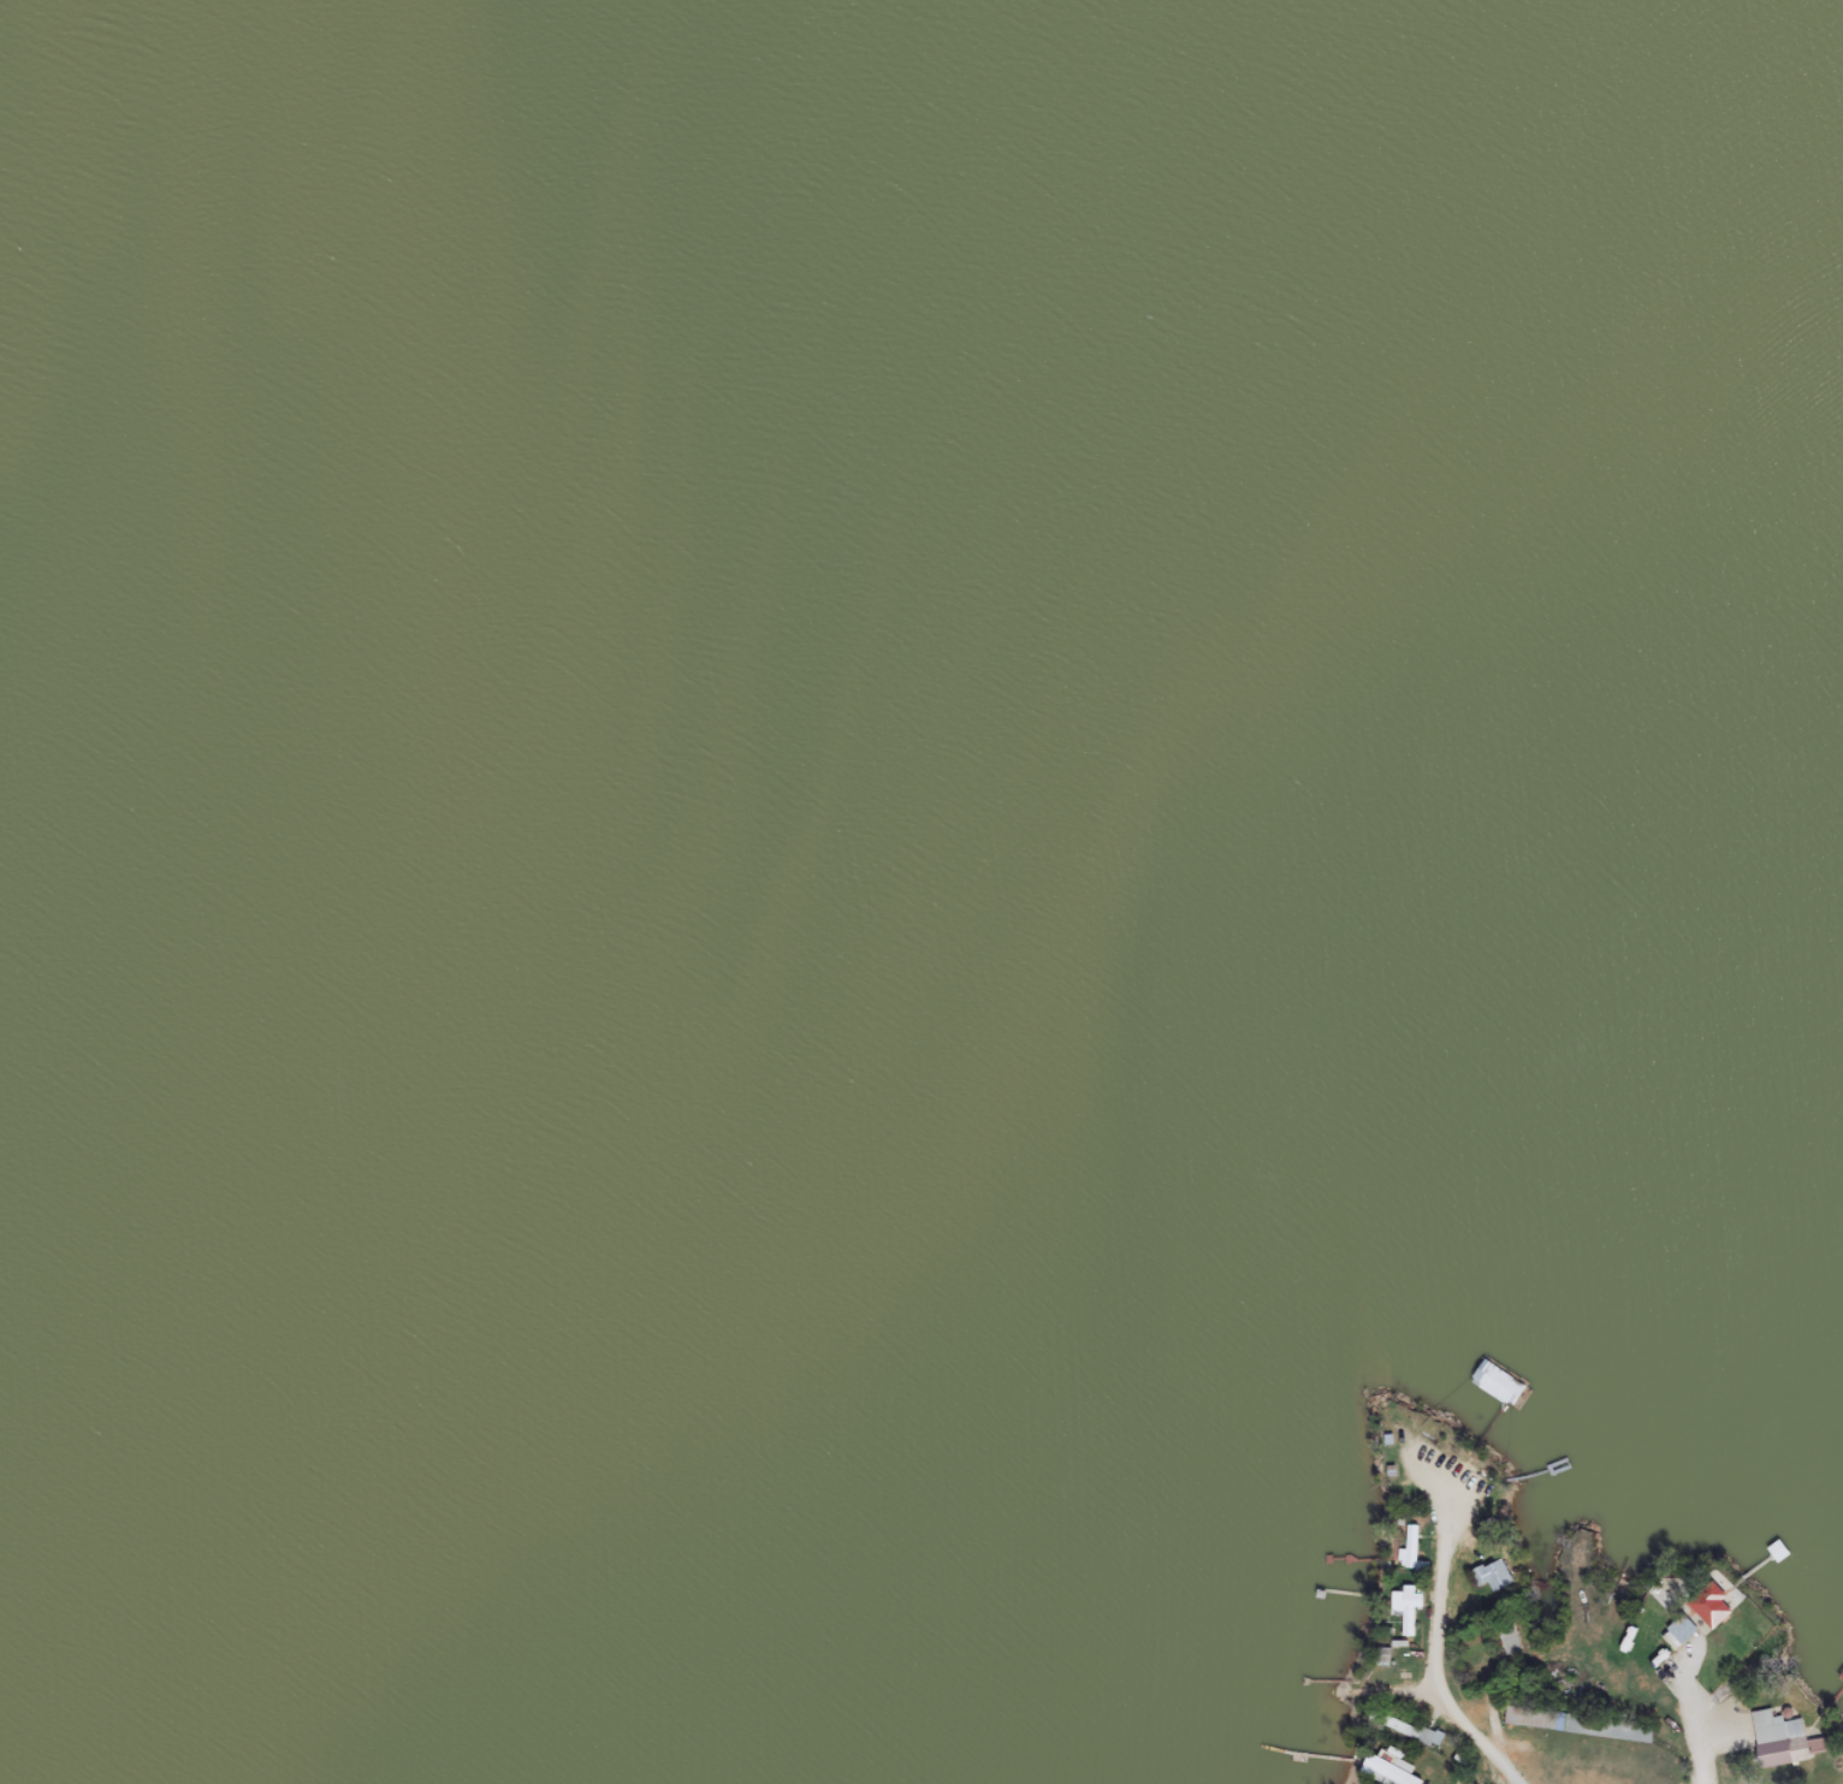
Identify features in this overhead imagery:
building: (1500, 1367)
building: (1409, 1555)
building: (1491, 1572)
building: (1709, 1604)
building: (1405, 1608)
building: (1679, 1628)
building: (1506, 1637)
road: (1430, 1648)
building: (1841, 1672)
building: (1575, 1721)
building: (1403, 1726)
building: (1780, 1738)
building: (1389, 1771)

